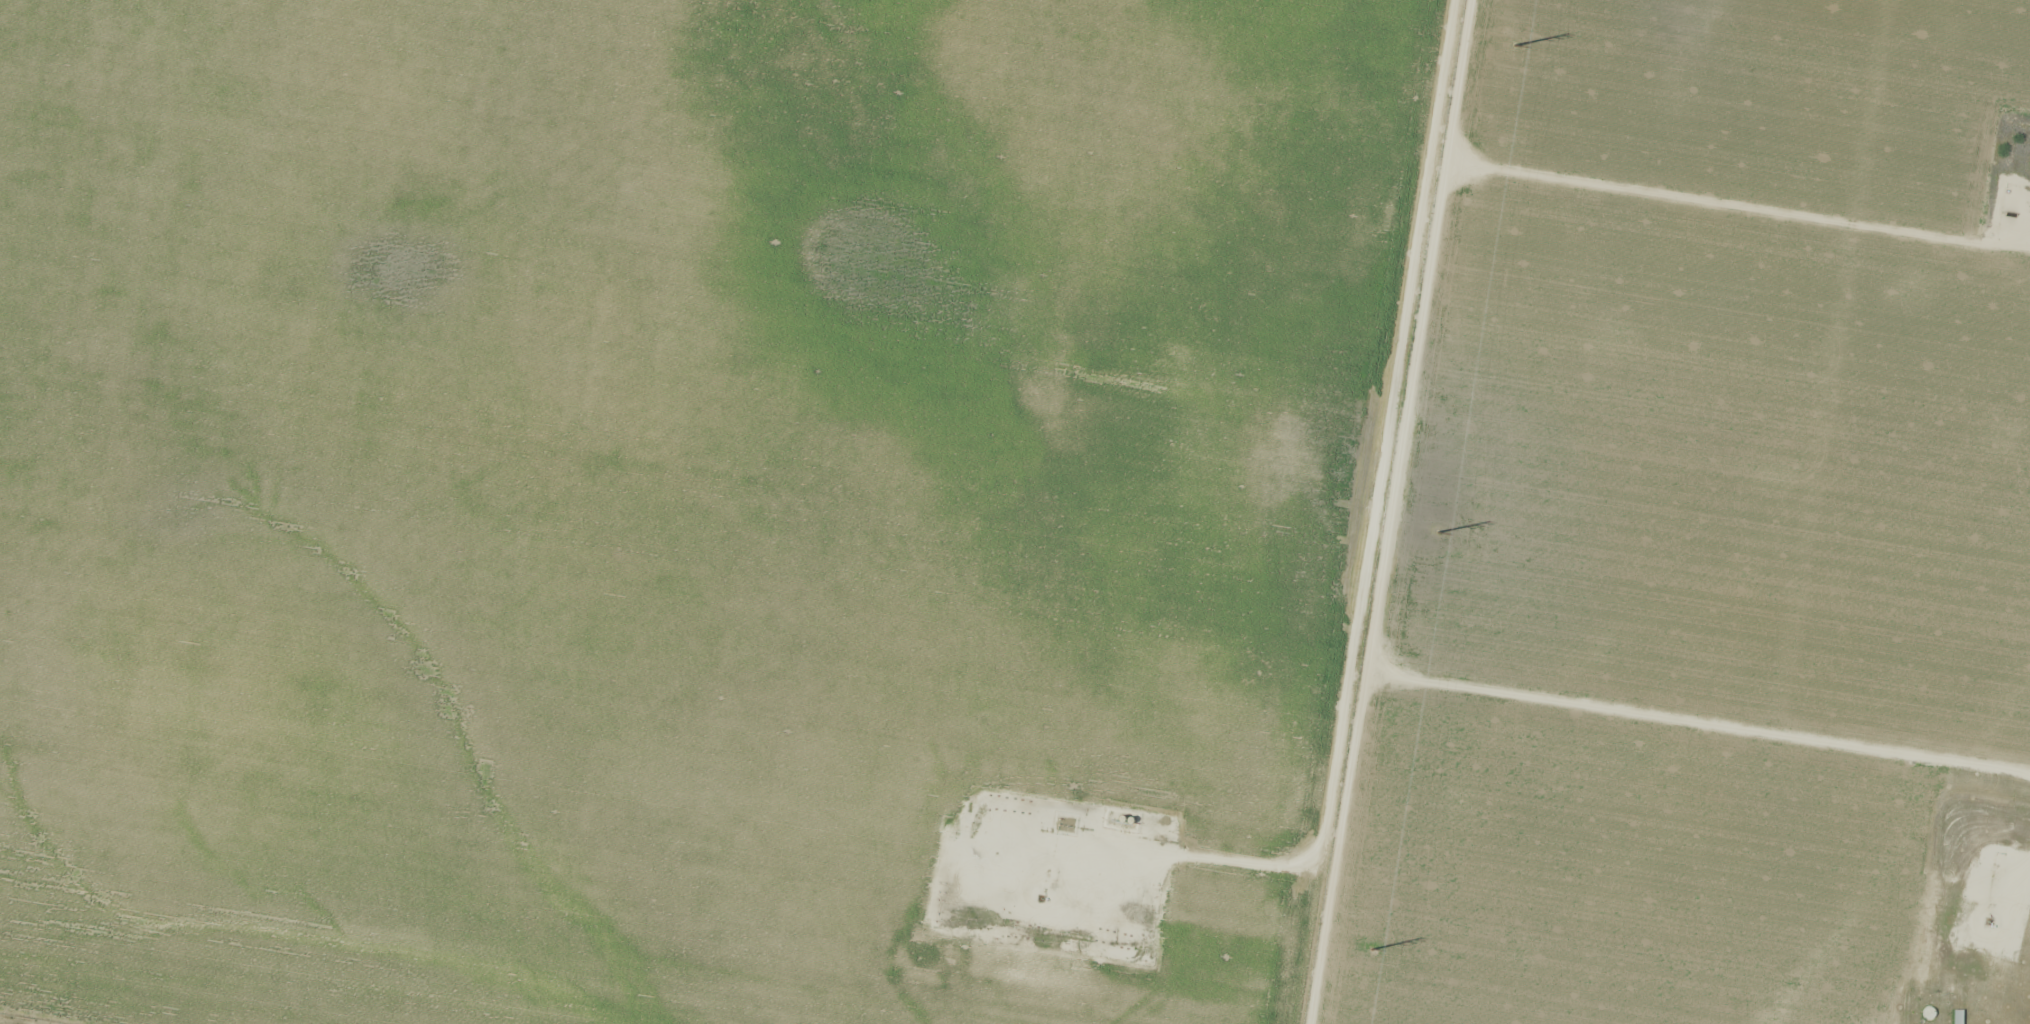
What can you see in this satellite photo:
power tower: (1521, 47)
road: (913, 83)
road: (1364, 510)
road: (741, 511)
power tower: (1444, 532)
power tower: (1378, 953)
building: (1929, 1013)

